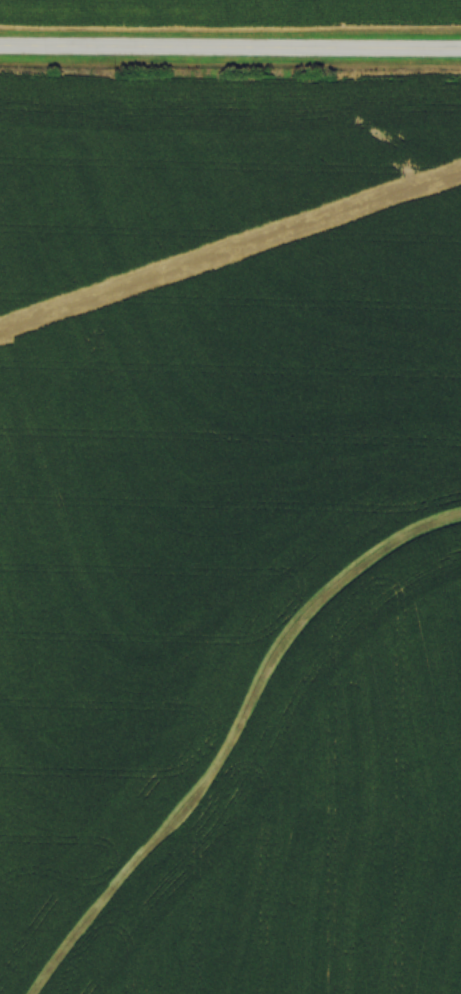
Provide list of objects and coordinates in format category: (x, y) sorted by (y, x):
road: (230, 48)

